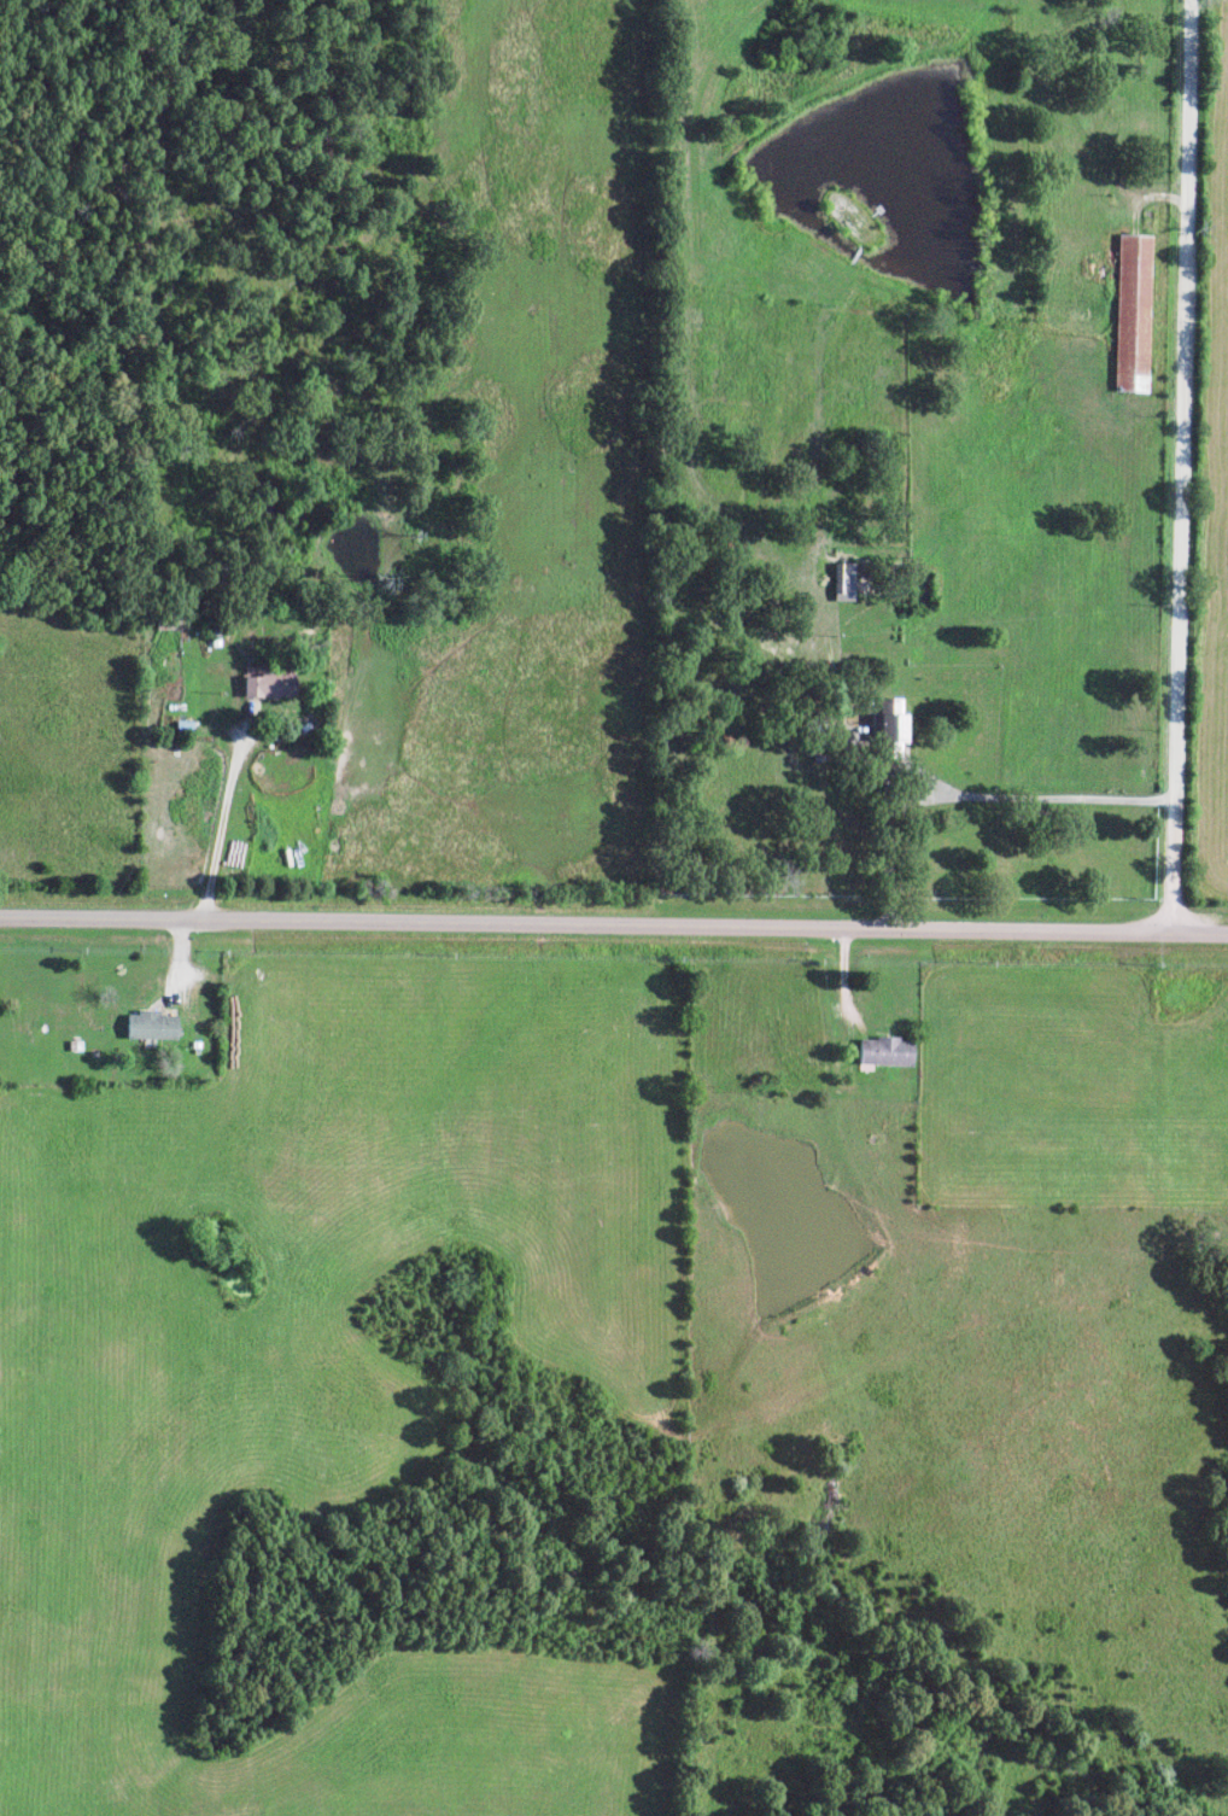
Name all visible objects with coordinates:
building: (1133, 314)
road: (1176, 468)
building: (844, 583)
building: (269, 685)
building: (893, 726)
road: (1042, 800)
road: (221, 819)
road: (613, 929)
building: (151, 1027)
building: (885, 1053)

